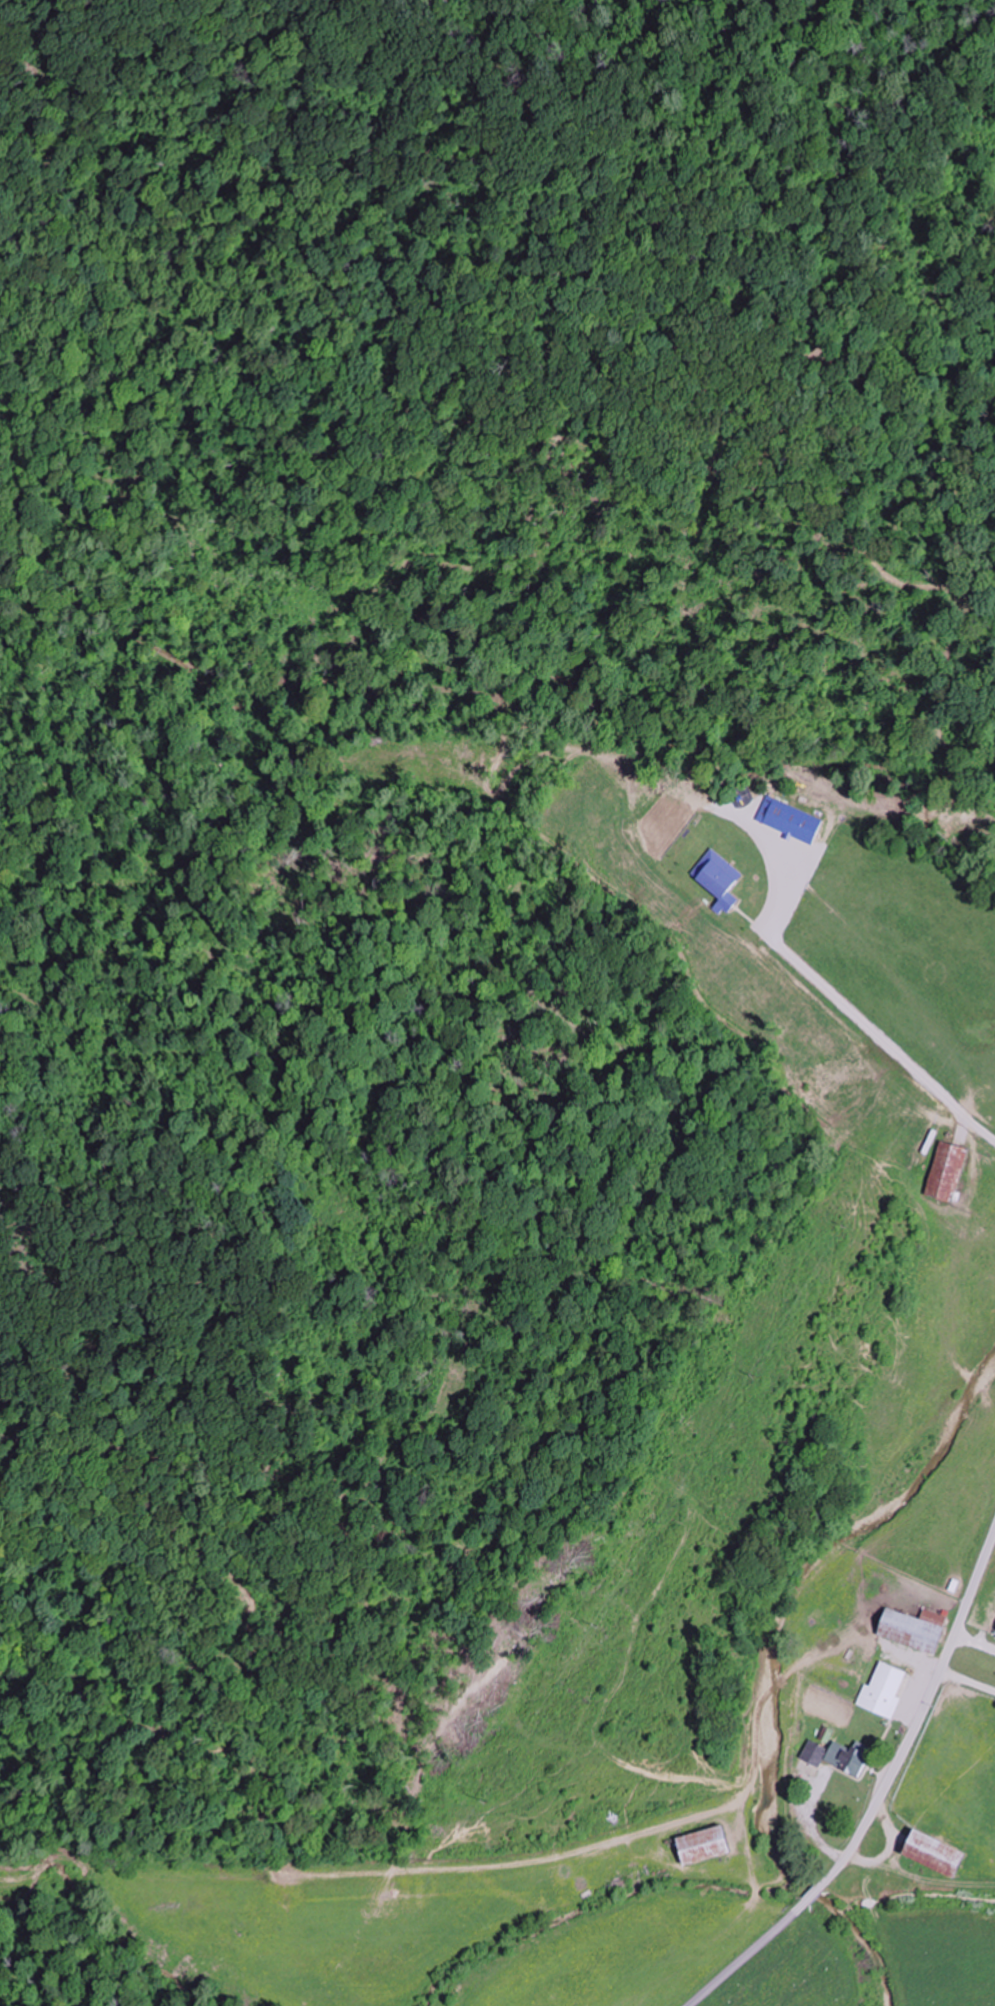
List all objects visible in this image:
building: (714, 875)
building: (945, 1173)
building: (910, 1629)
building: (882, 1690)
building: (831, 1753)
road: (882, 1793)
building: (699, 1845)
building: (928, 1853)

